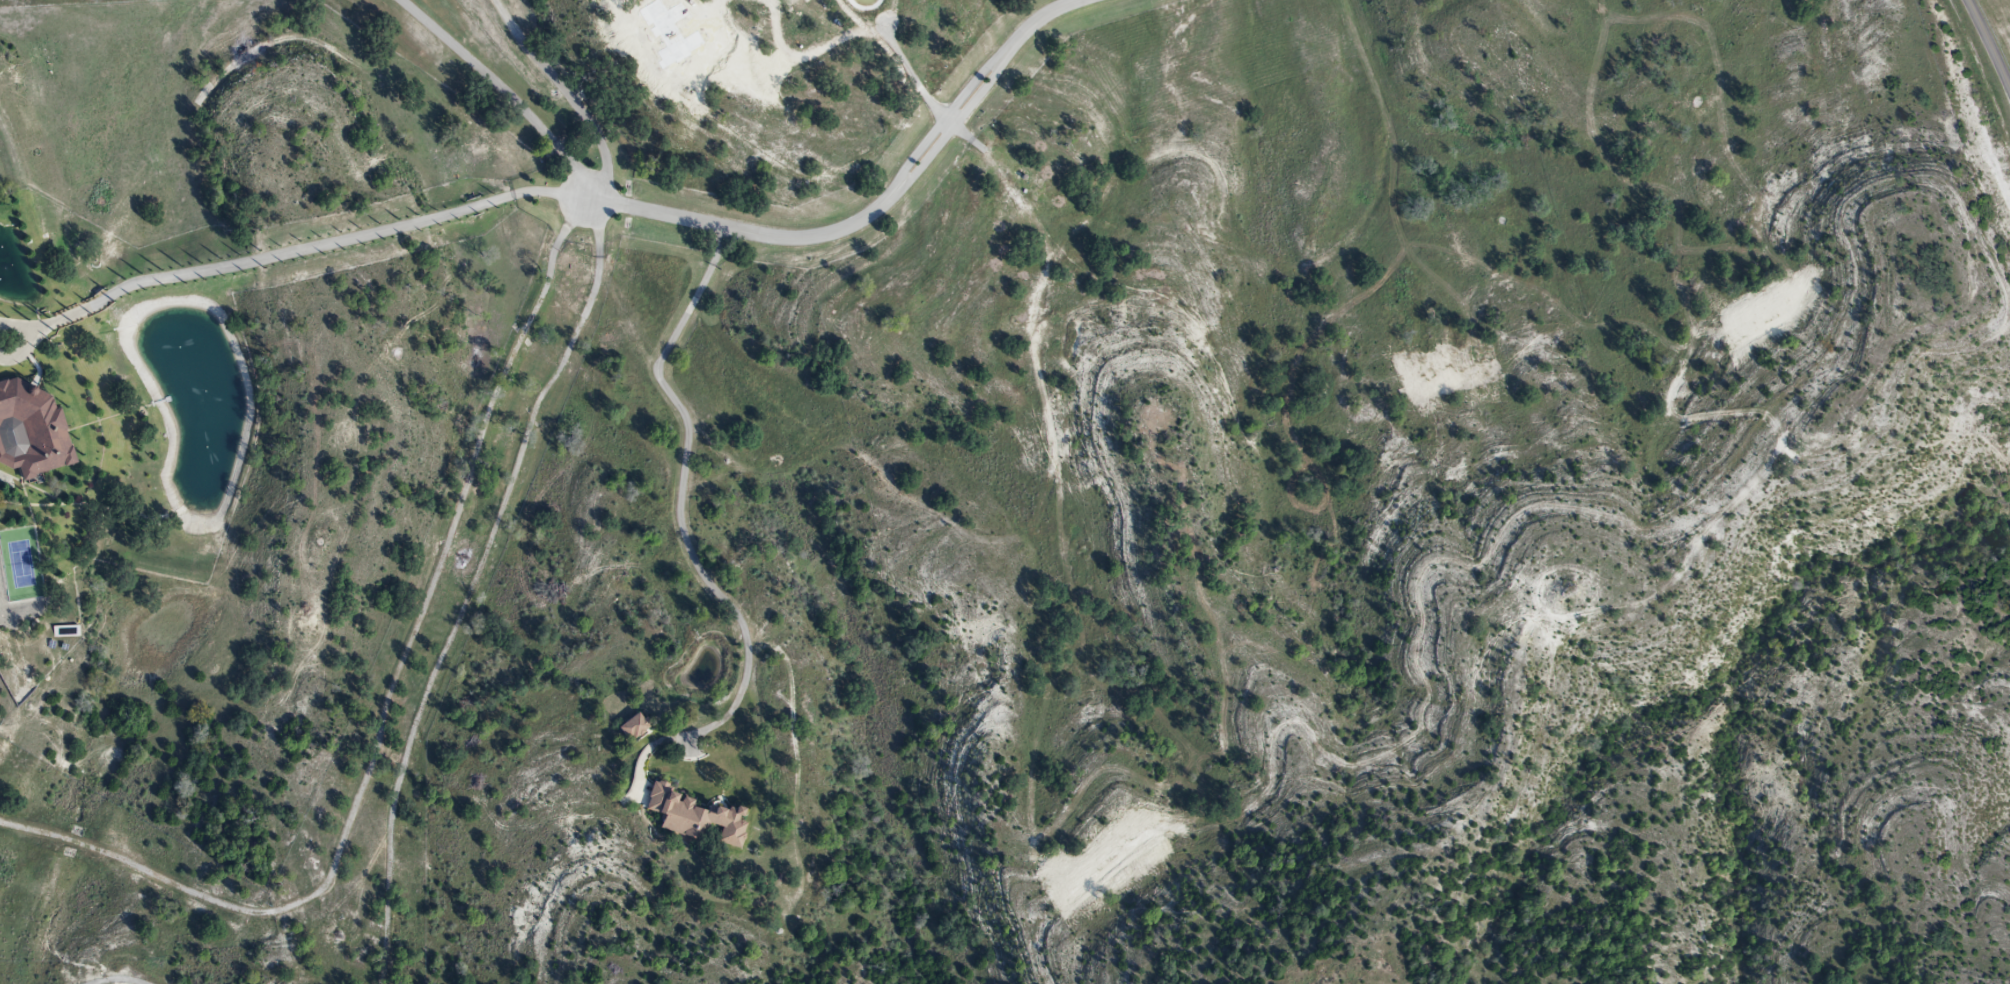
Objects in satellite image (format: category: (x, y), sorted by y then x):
road: (1992, 41)
road: (504, 92)
road: (875, 208)
road: (304, 252)
building: (32, 433)
road: (684, 537)
building: (66, 633)
building: (636, 728)
building: (698, 817)

